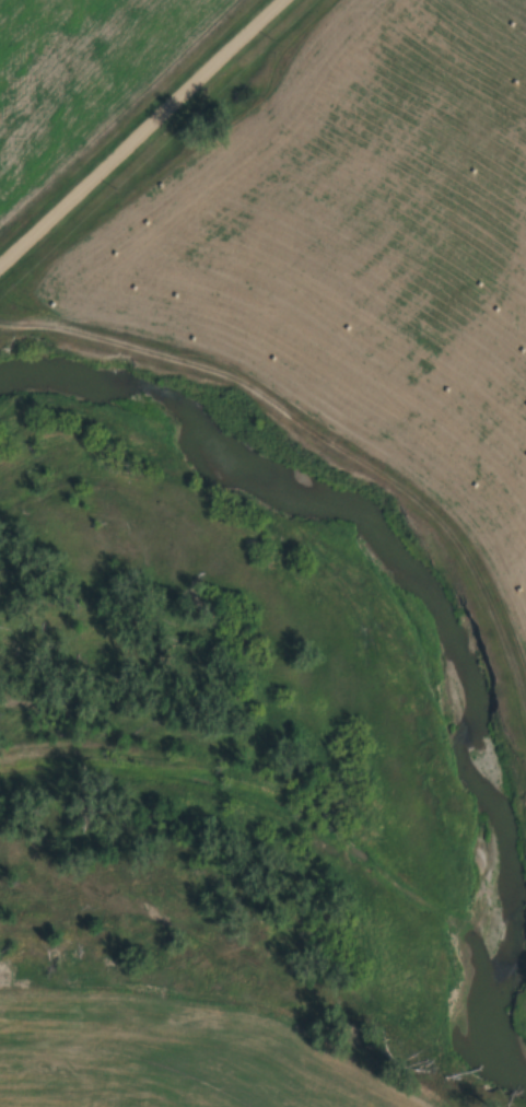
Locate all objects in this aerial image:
road: (143, 145)
river: (421, 610)

